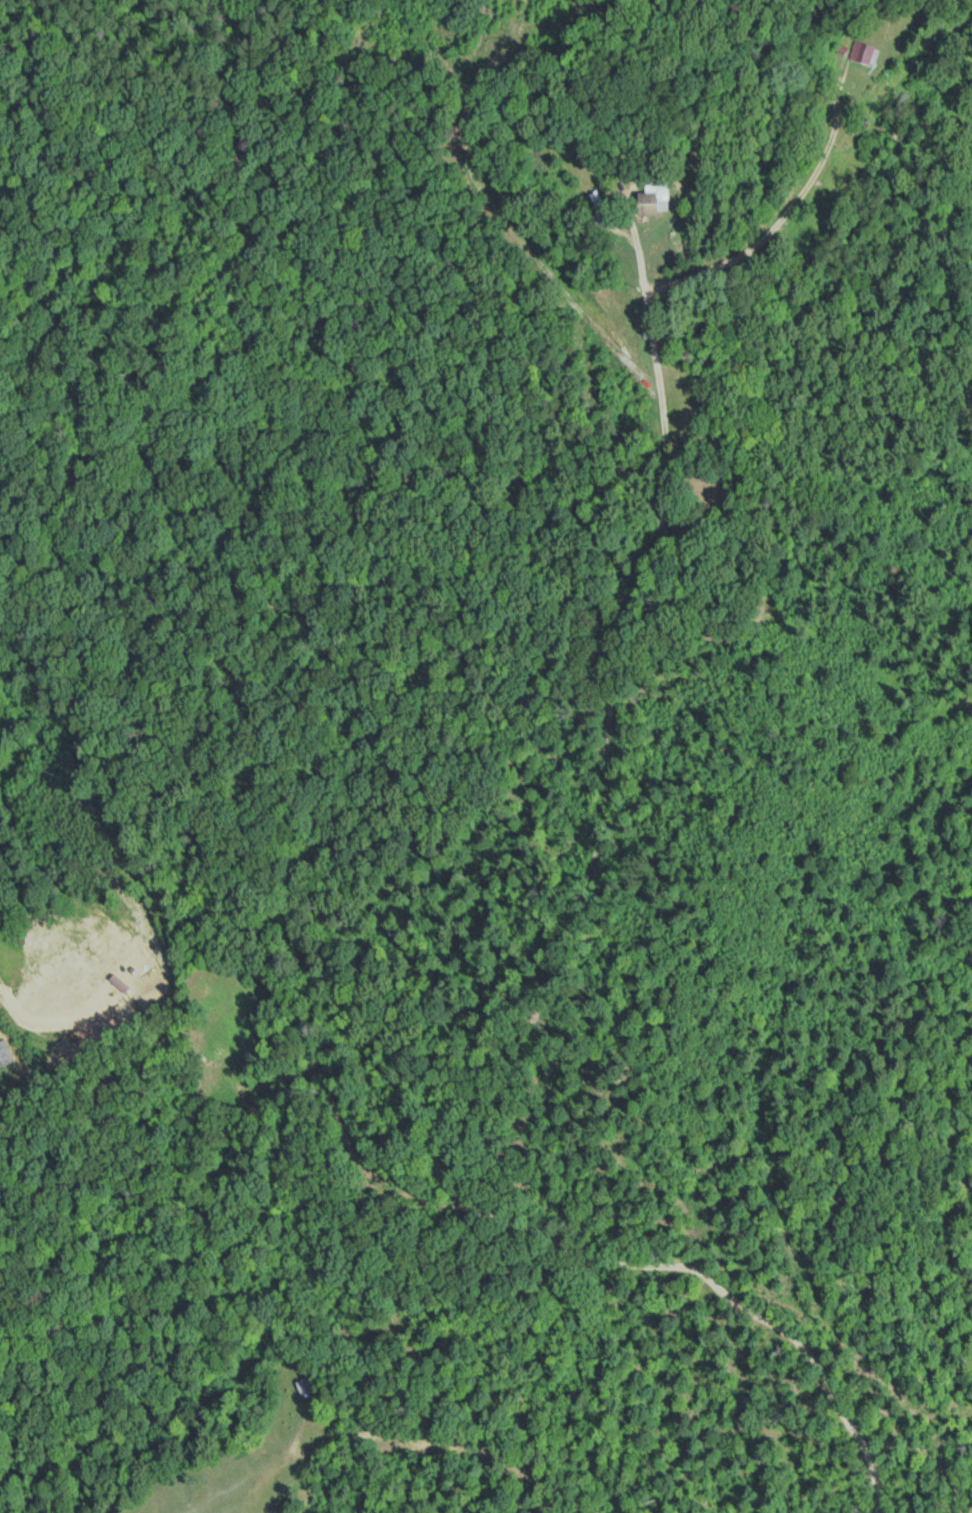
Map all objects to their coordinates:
building: (865, 52)
building: (650, 204)
road: (549, 837)
road: (216, 982)
building: (5, 1054)
building: (306, 1385)
road: (396, 1437)

